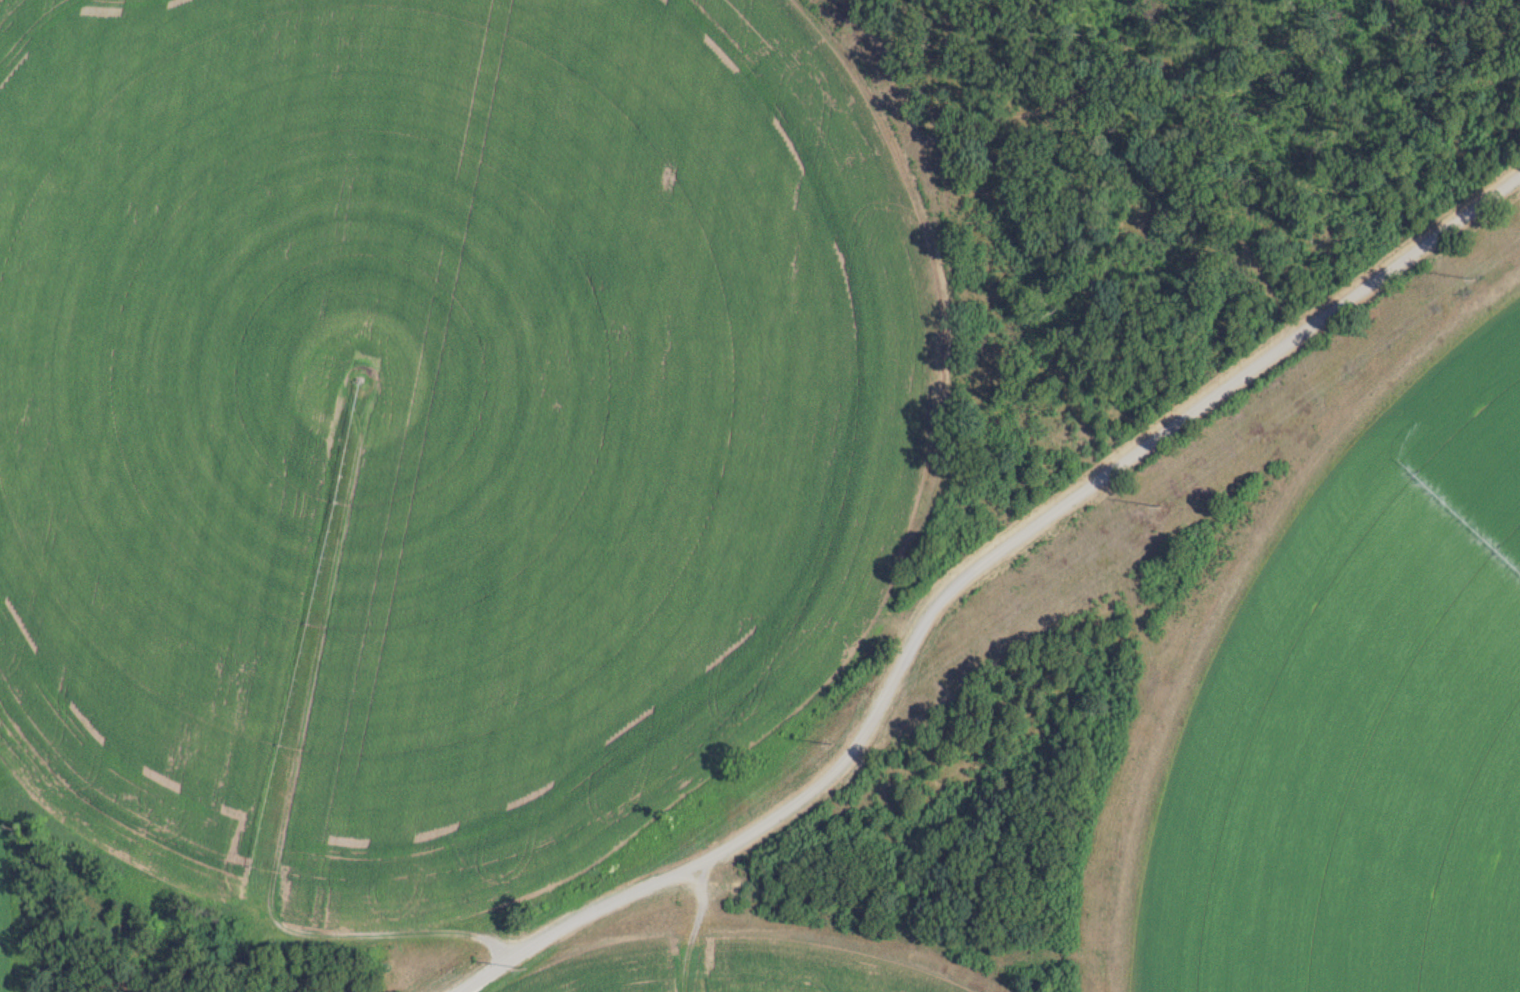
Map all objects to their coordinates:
wastewater plant: (702, 537)
road: (969, 572)

